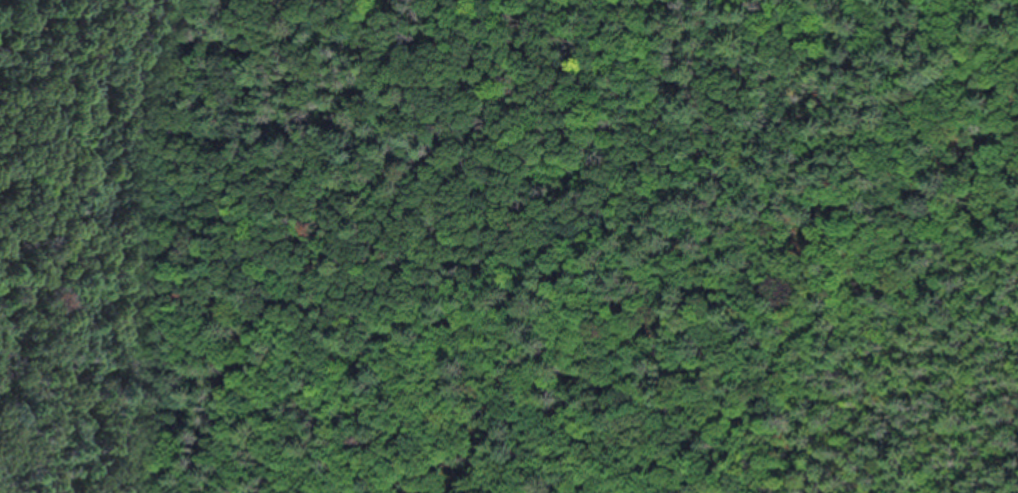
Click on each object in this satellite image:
park: (920, 245)

